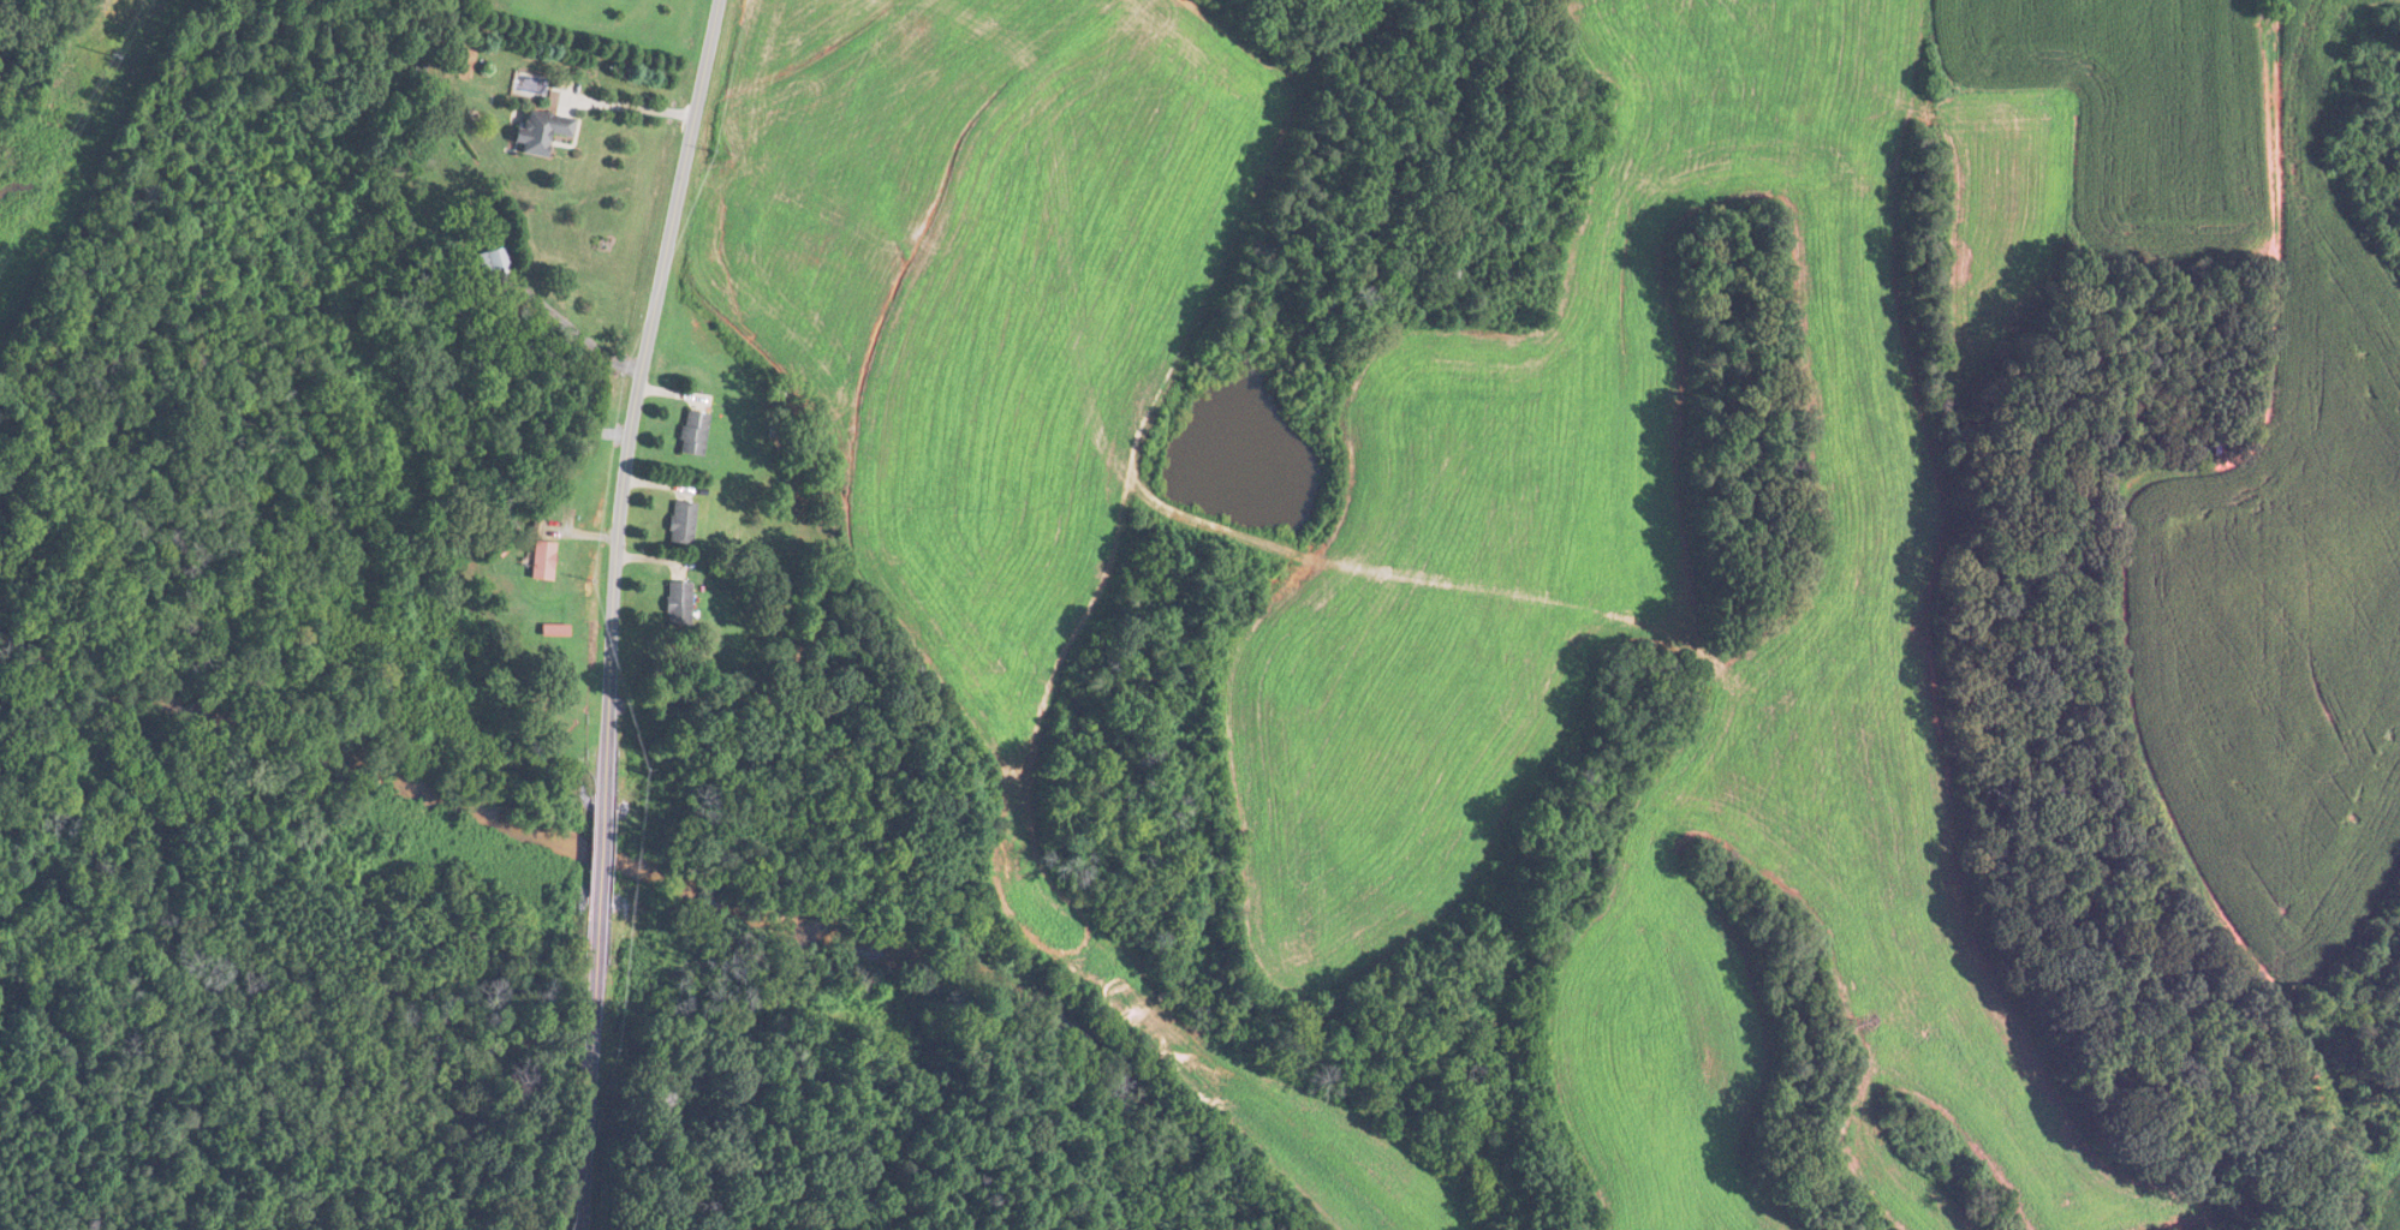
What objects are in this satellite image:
road: (627, 103)
building: (541, 131)
building: (692, 432)
building: (681, 525)
building: (541, 560)
building: (677, 602)
road: (613, 610)

